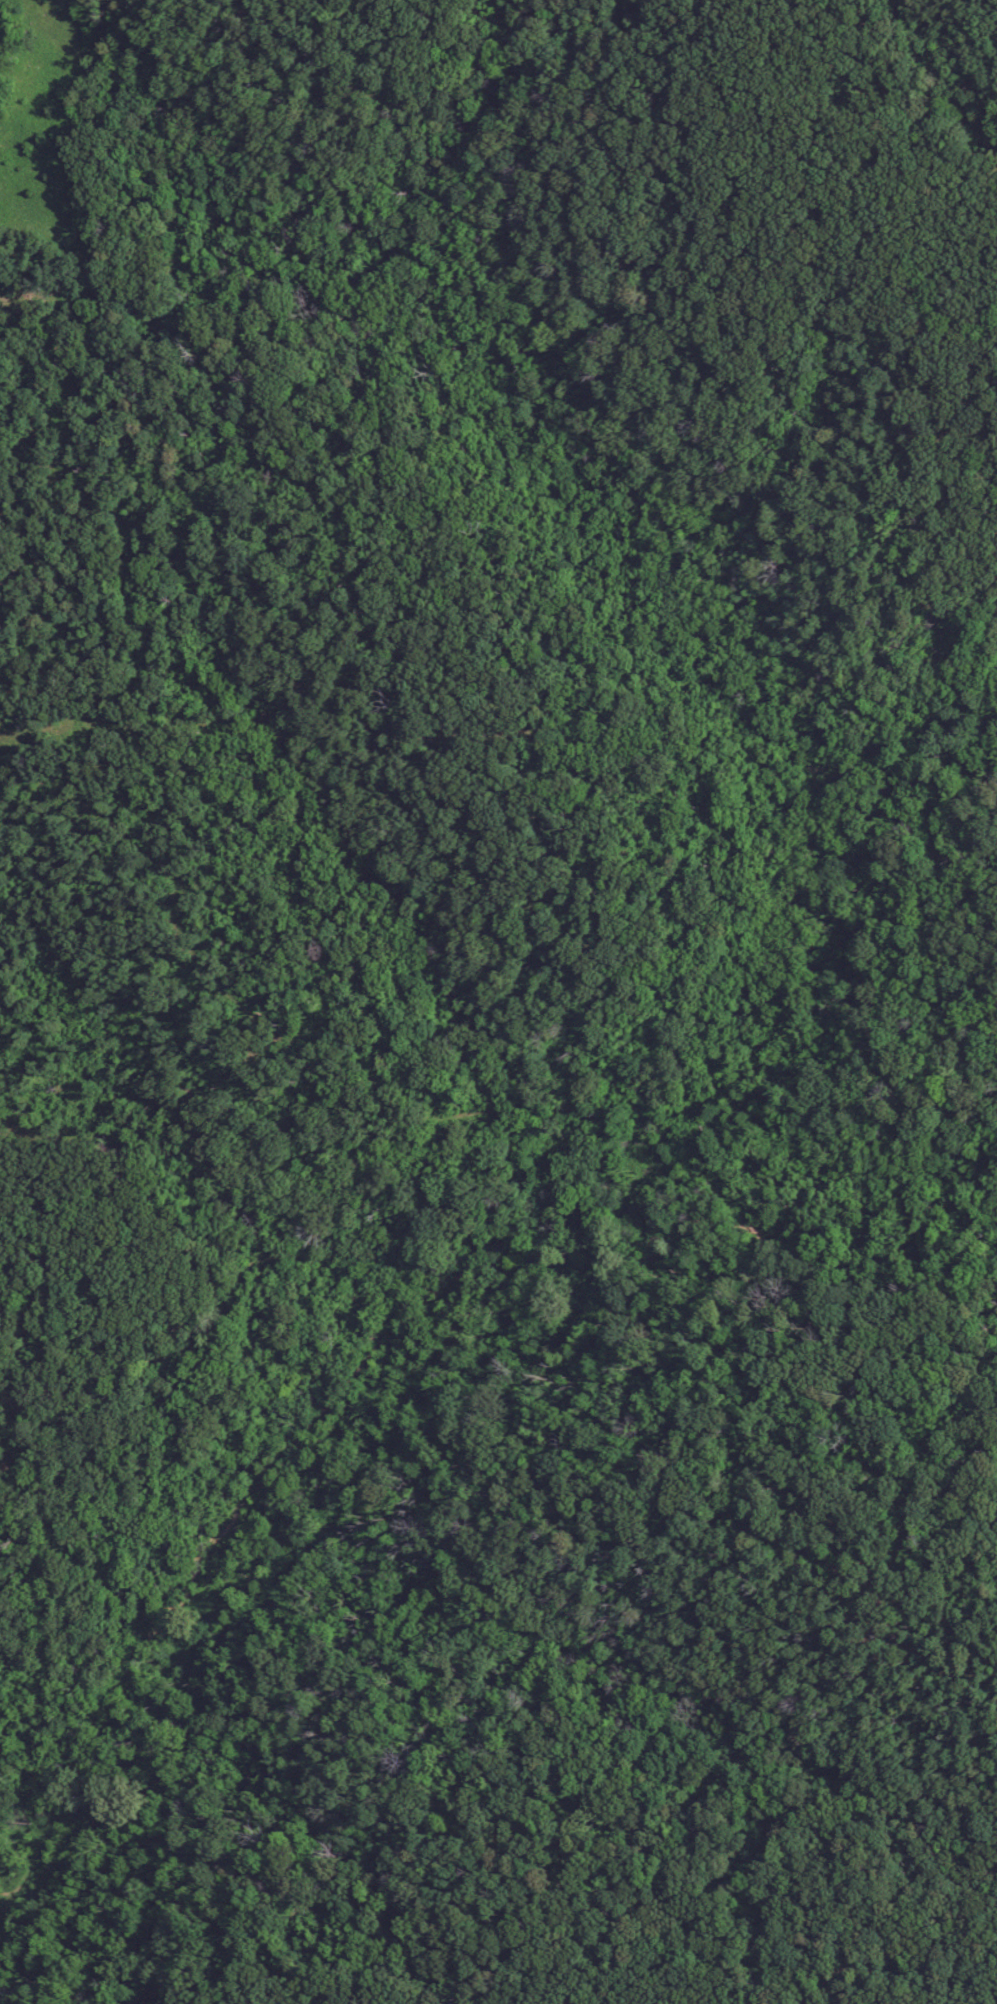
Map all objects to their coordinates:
road: (225, 1316)
road: (31, 1346)
road: (375, 1353)
road: (20, 1436)
road: (749, 1521)
road: (905, 1543)
road: (407, 1769)
road: (33, 1774)
road: (566, 1847)
road: (323, 1964)
road: (836, 1980)

